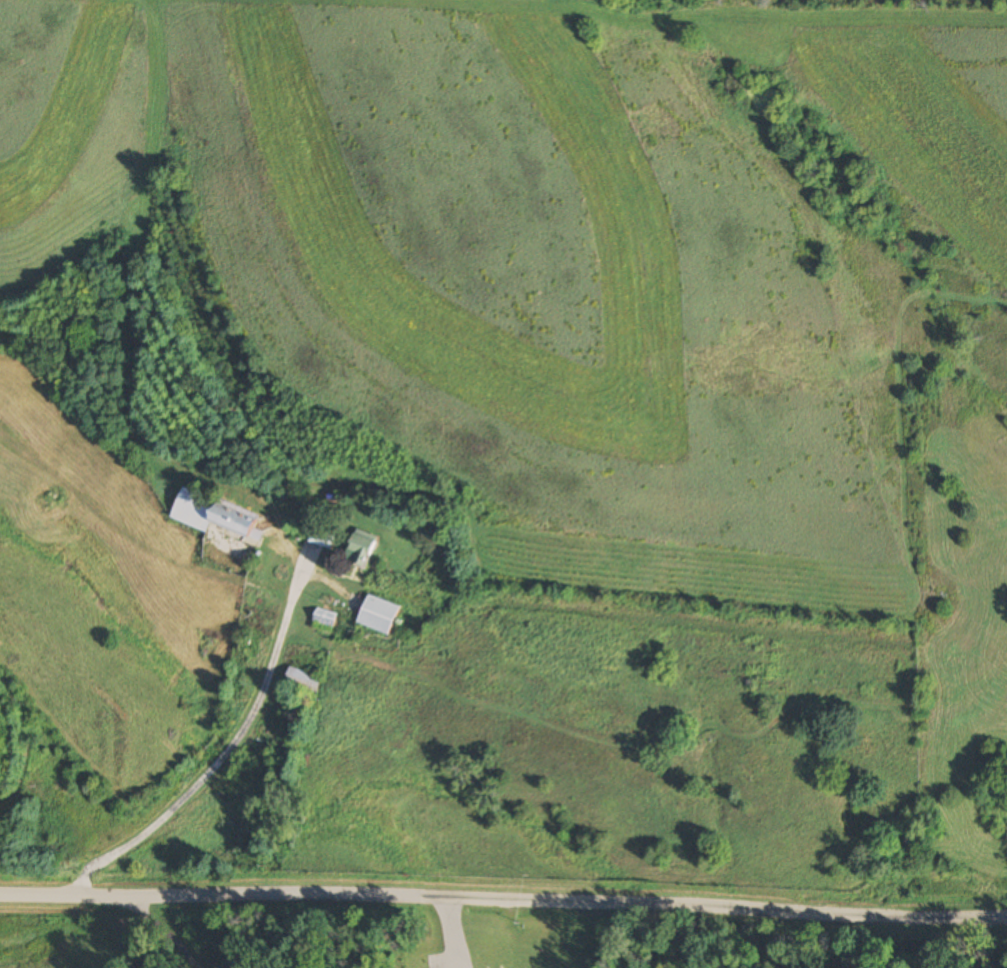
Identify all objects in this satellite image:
building: (218, 517)
building: (321, 536)
building: (361, 548)
building: (378, 615)
building: (324, 618)
building: (304, 680)
road: (217, 765)
road: (503, 899)

